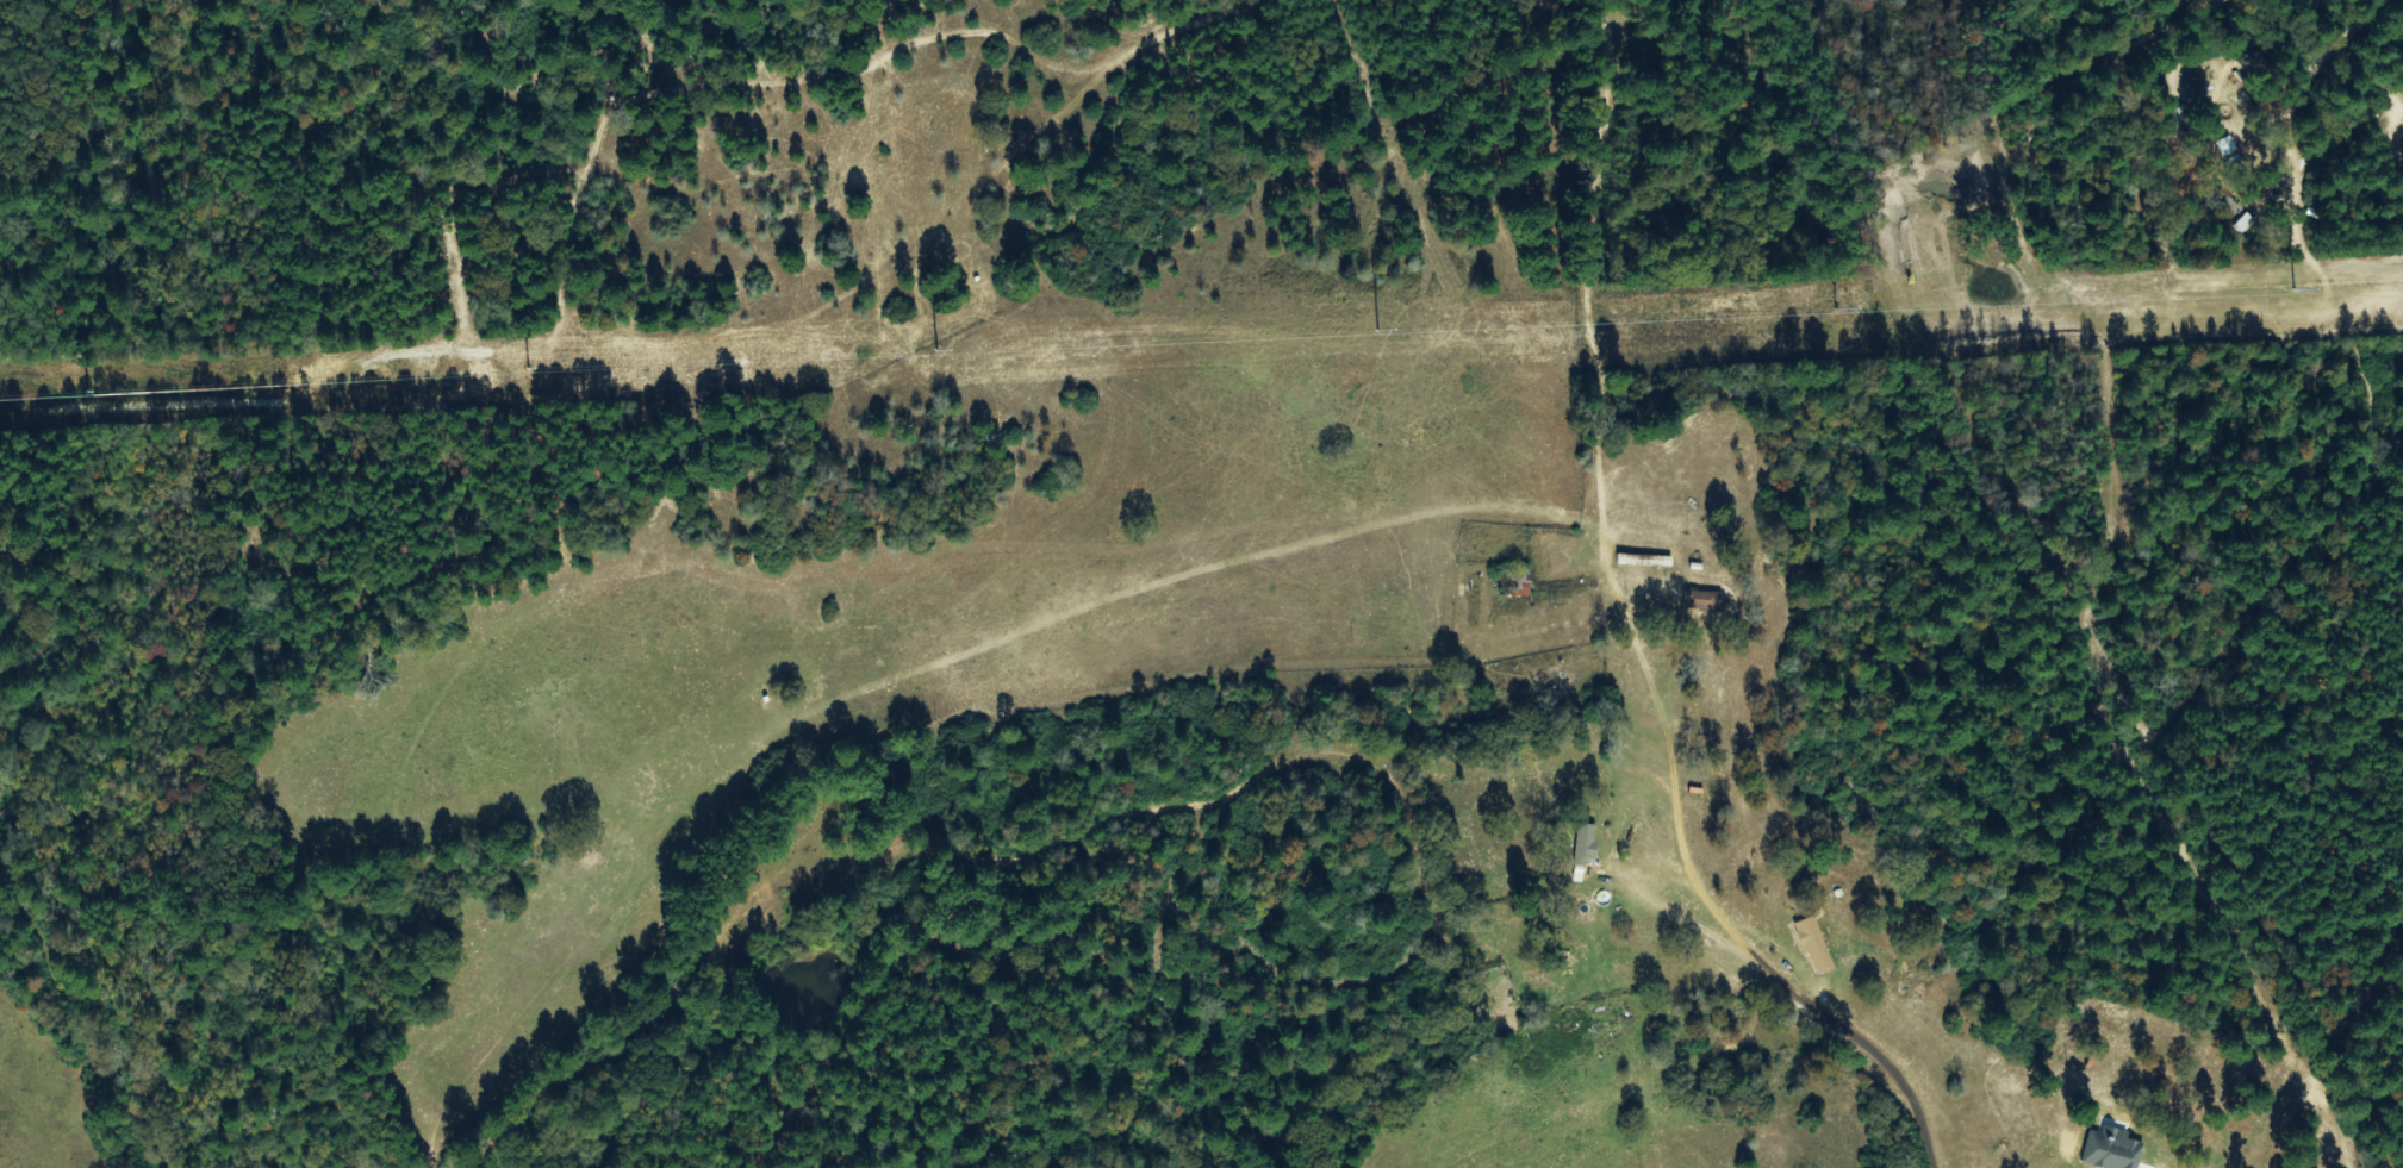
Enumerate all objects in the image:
building: (2225, 145)
building: (2245, 223)
power tower: (2284, 294)
power tower: (1822, 314)
power tower: (1501, 330)
power tower: (1144, 344)
power tower: (736, 364)
power tower: (452, 377)
building: (1708, 601)
road: (1596, 645)
road: (981, 755)
road: (1524, 794)
building: (1586, 845)
building: (1814, 947)
building: (2111, 1149)

